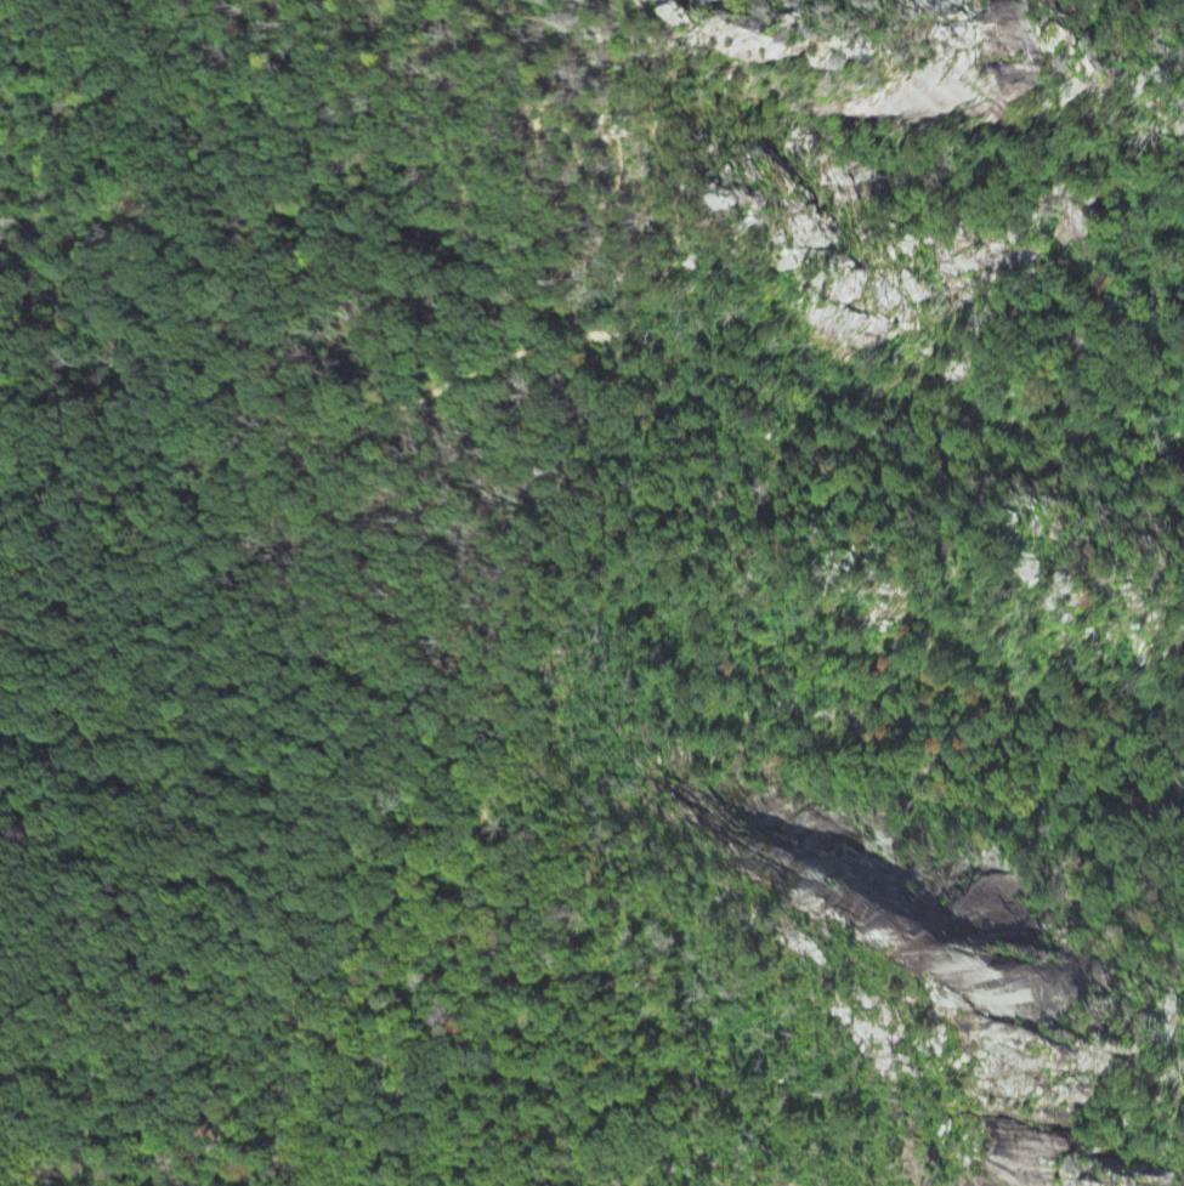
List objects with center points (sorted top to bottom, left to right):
road: (1037, 84)
road: (678, 221)
road: (487, 252)
road: (312, 464)
park: (591, 592)
road: (516, 747)

